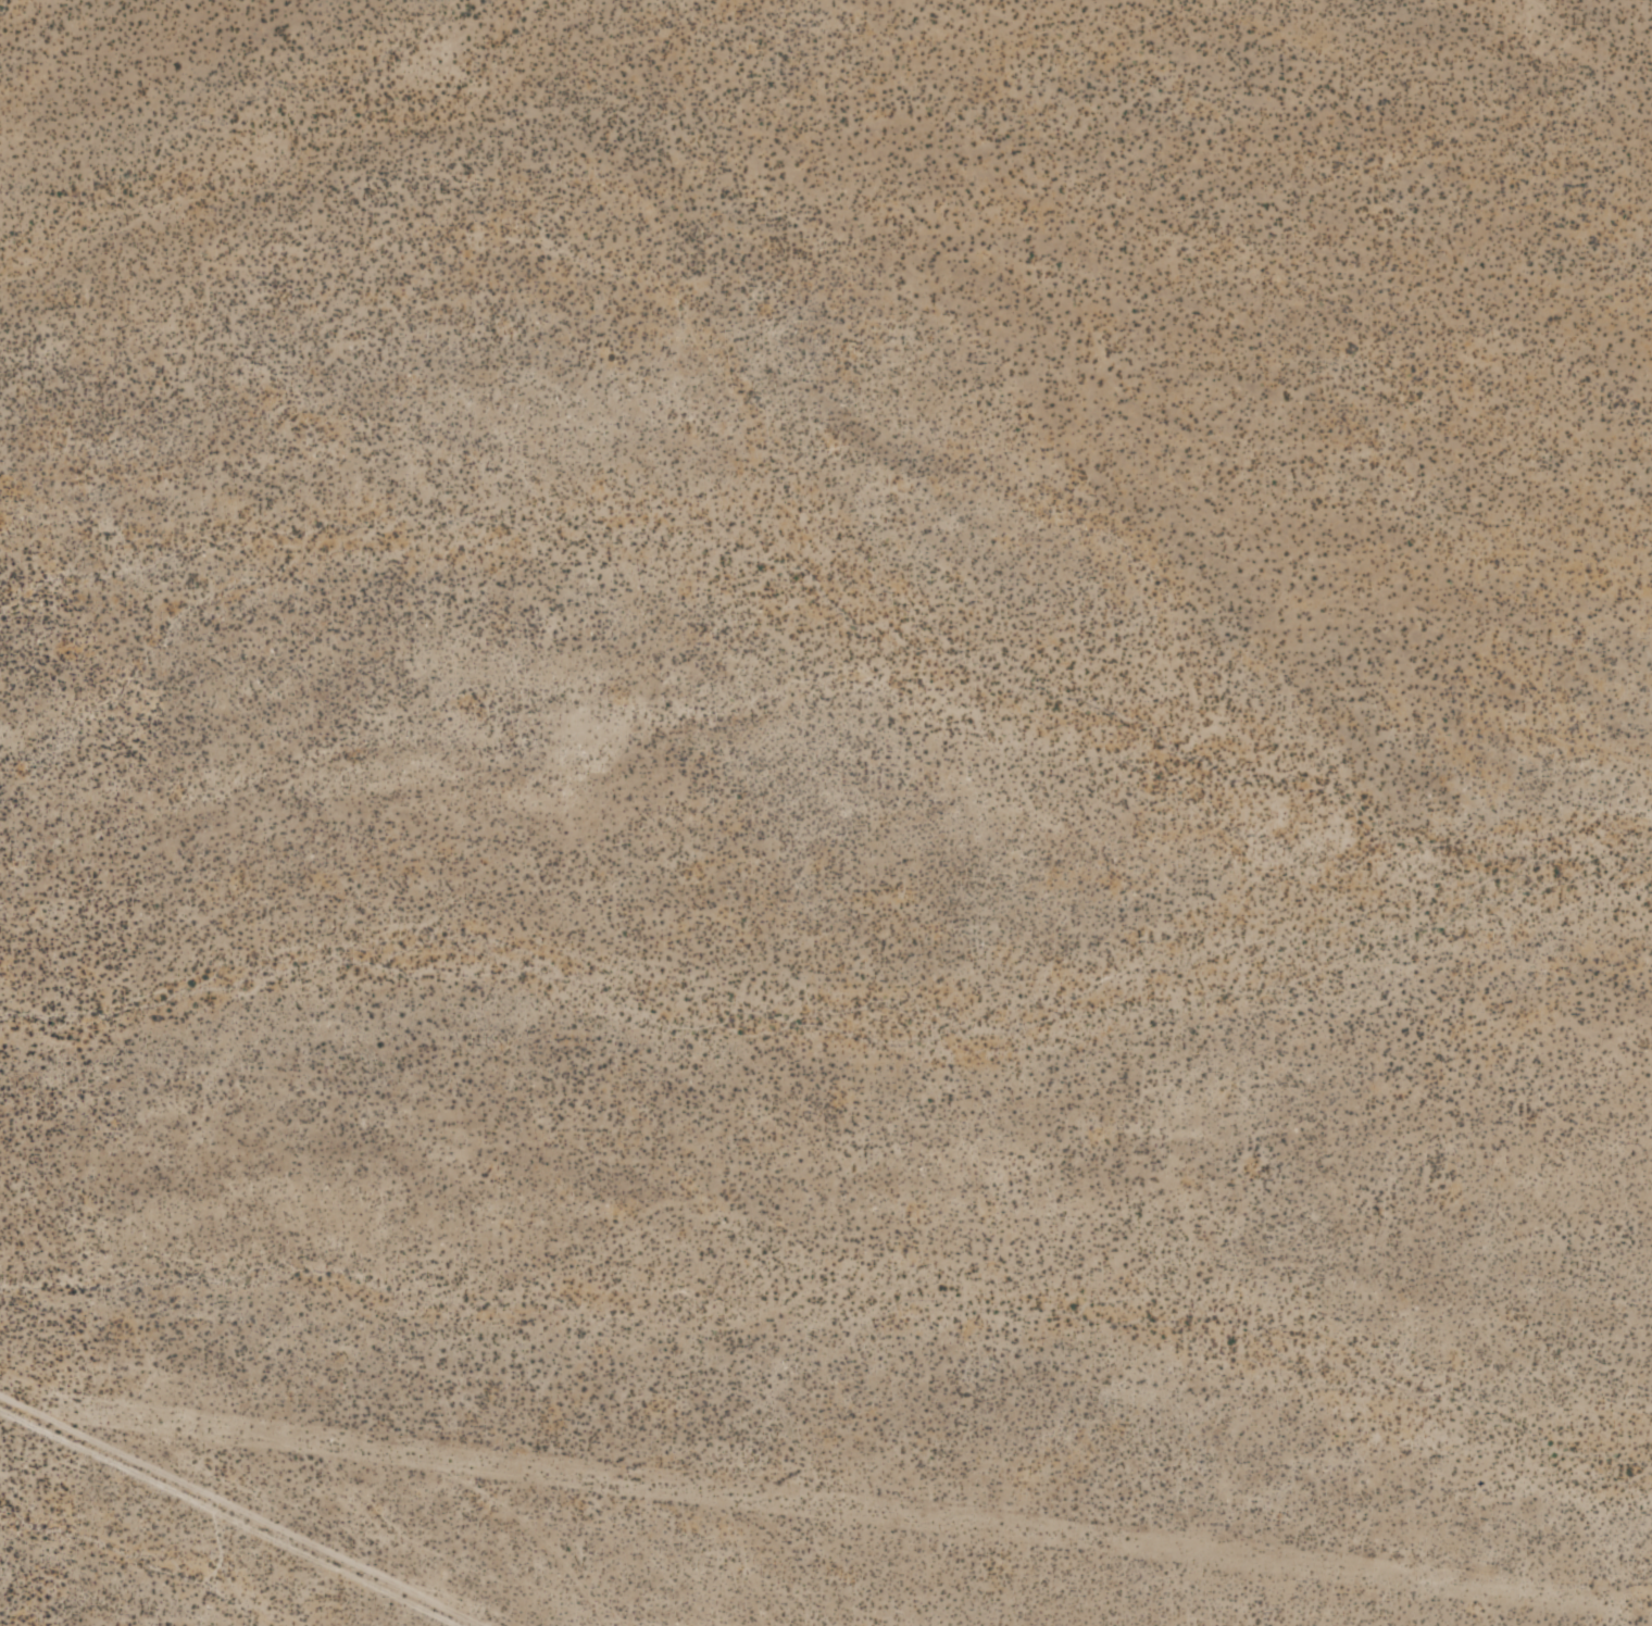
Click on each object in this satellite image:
airport runway: (839, 1509)

